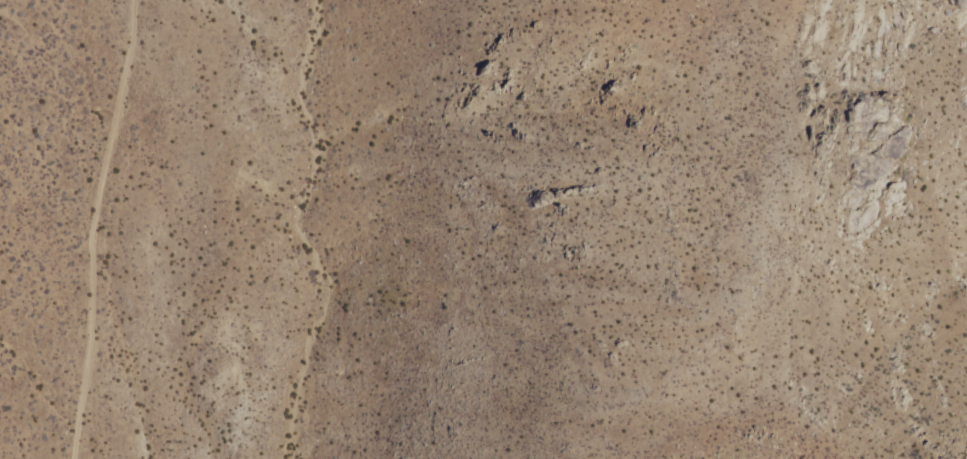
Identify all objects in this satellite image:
road: (96, 228)

